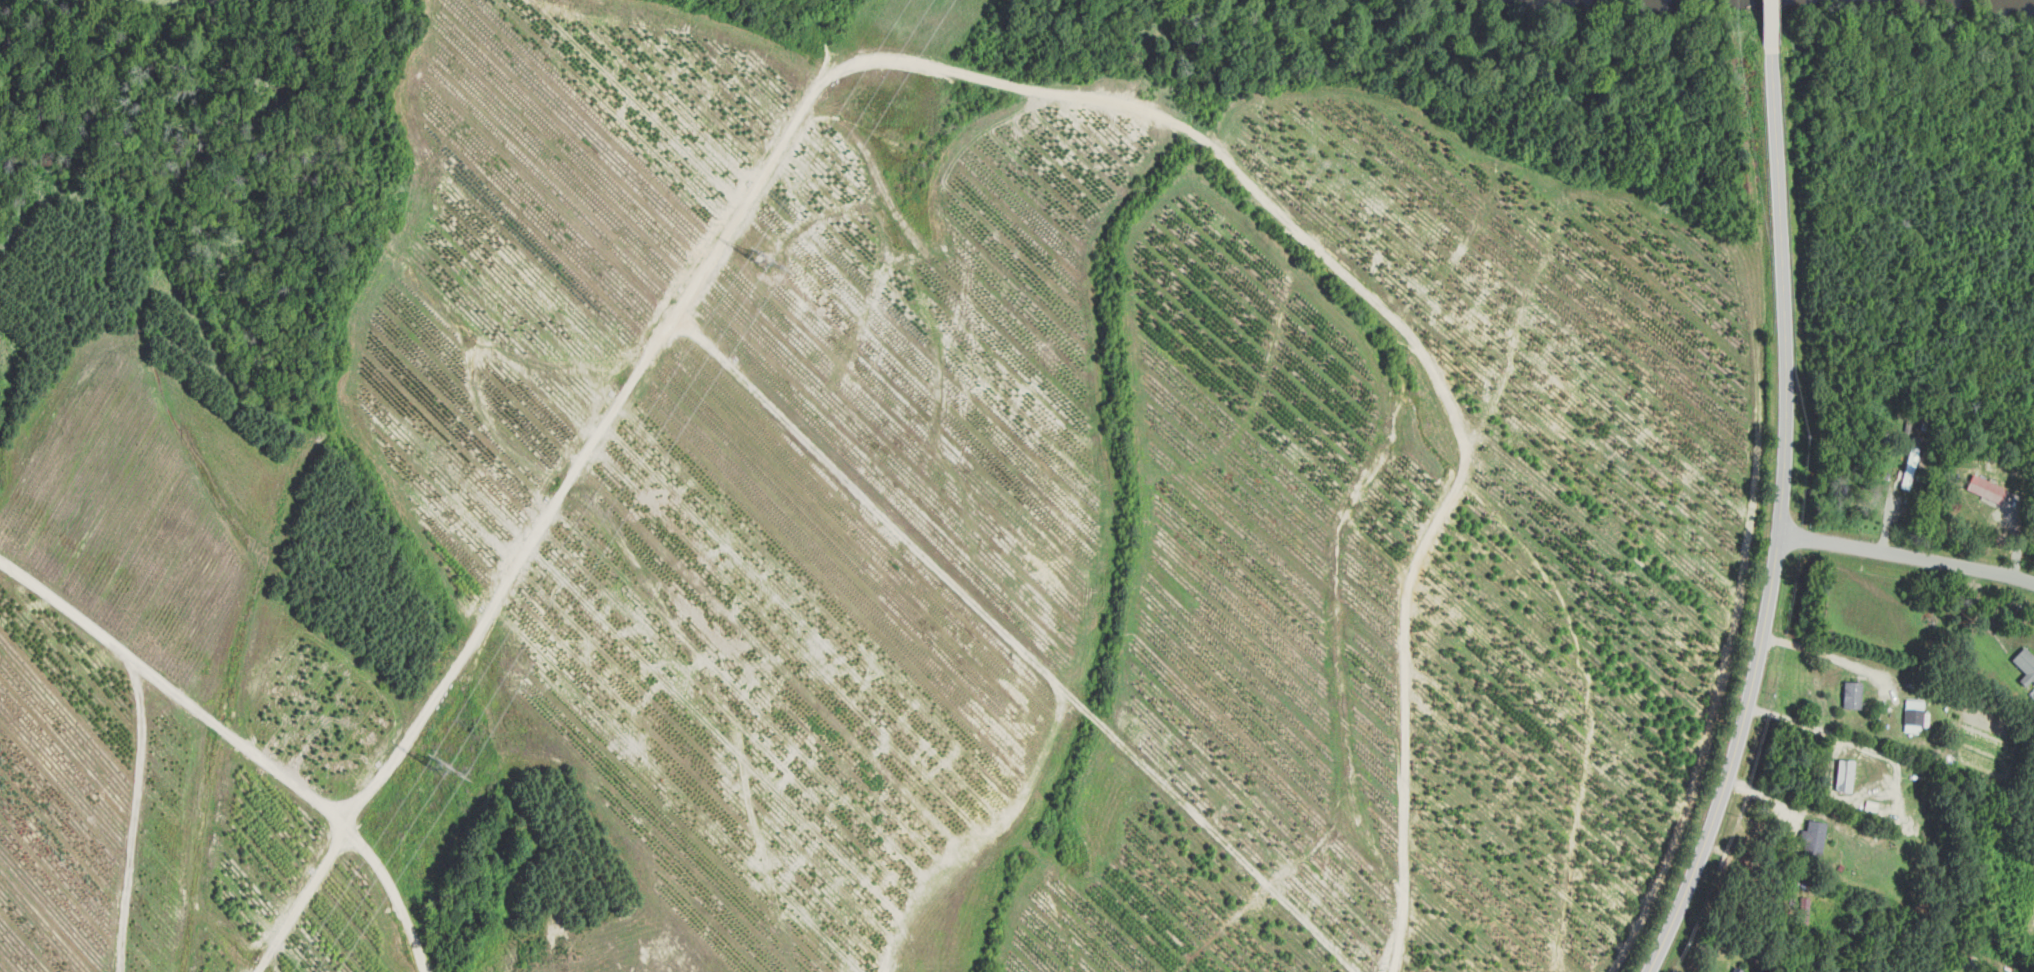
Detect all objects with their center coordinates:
river: (2026, 2)
road: (1770, 27)
power tower: (765, 259)
building: (1986, 488)
road: (1781, 523)
road: (1908, 557)
road: (1813, 650)
building: (2025, 665)
building: (1852, 694)
building: (1914, 715)
road: (1888, 756)
power tower: (441, 767)
building: (1844, 775)
building: (1813, 837)

